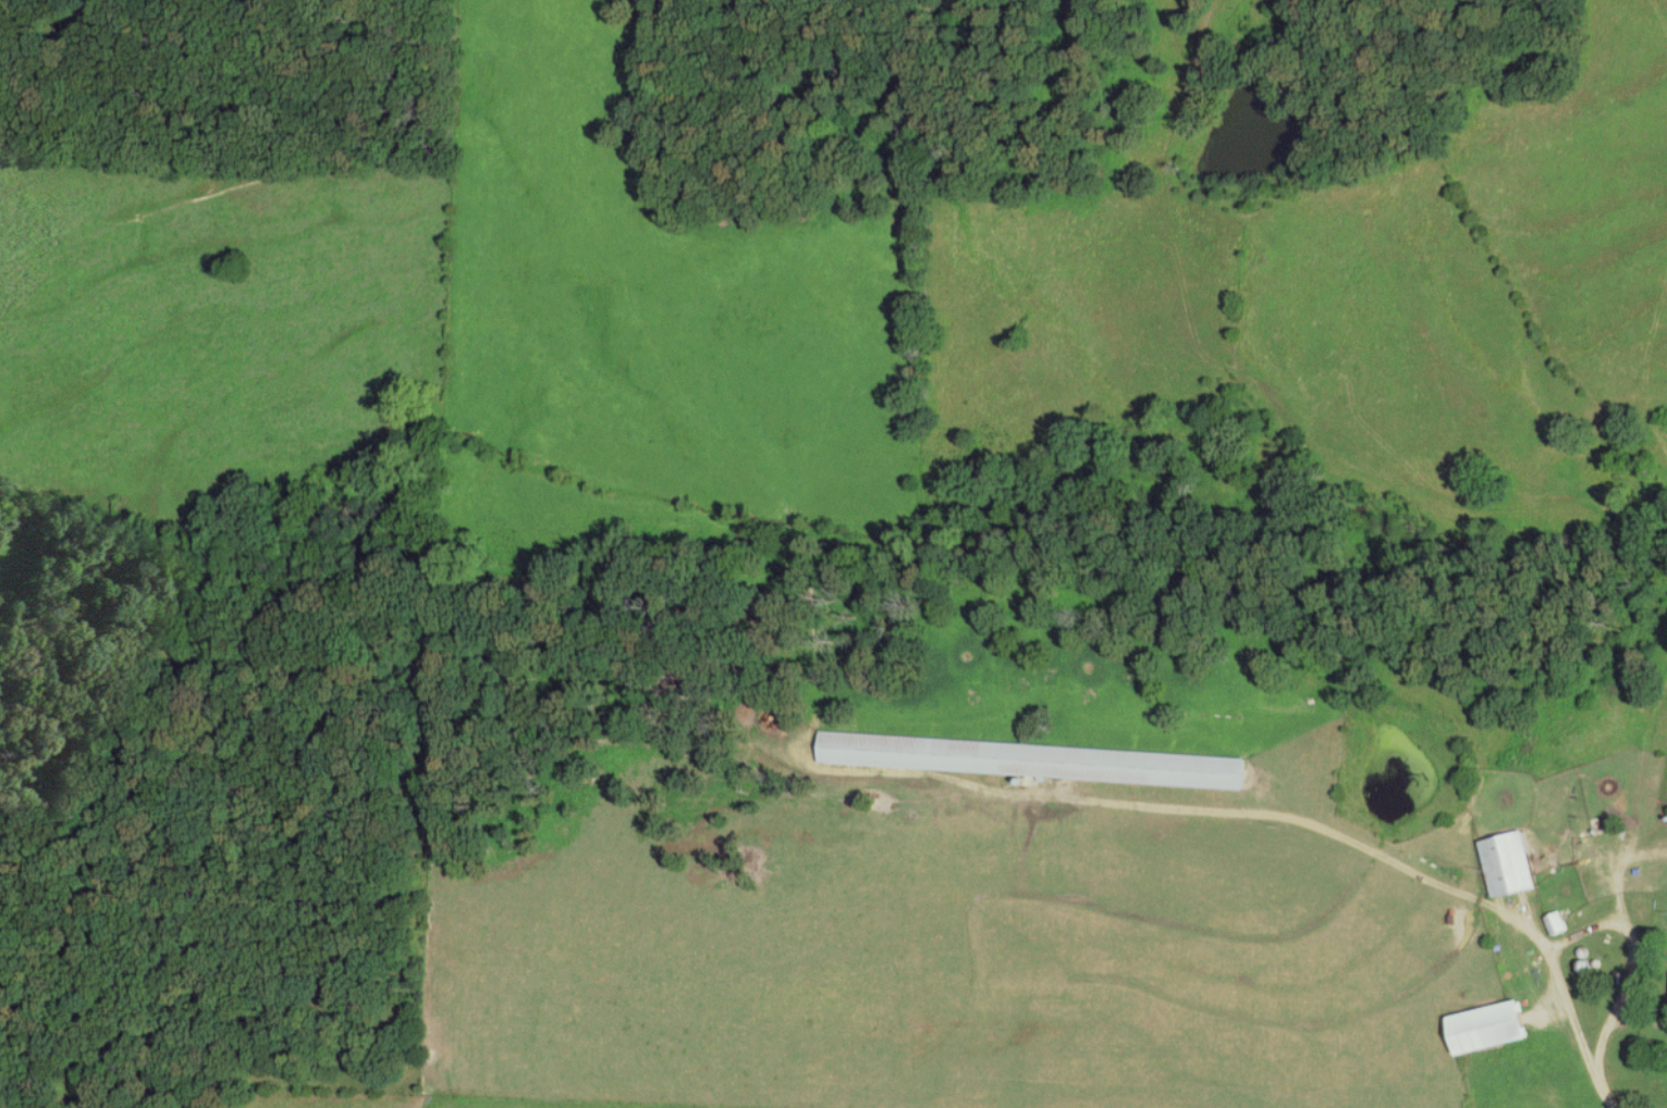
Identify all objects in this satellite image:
building: (1030, 761)
building: (1507, 865)
building: (1642, 886)
building: (1555, 925)
building: (1487, 1029)

